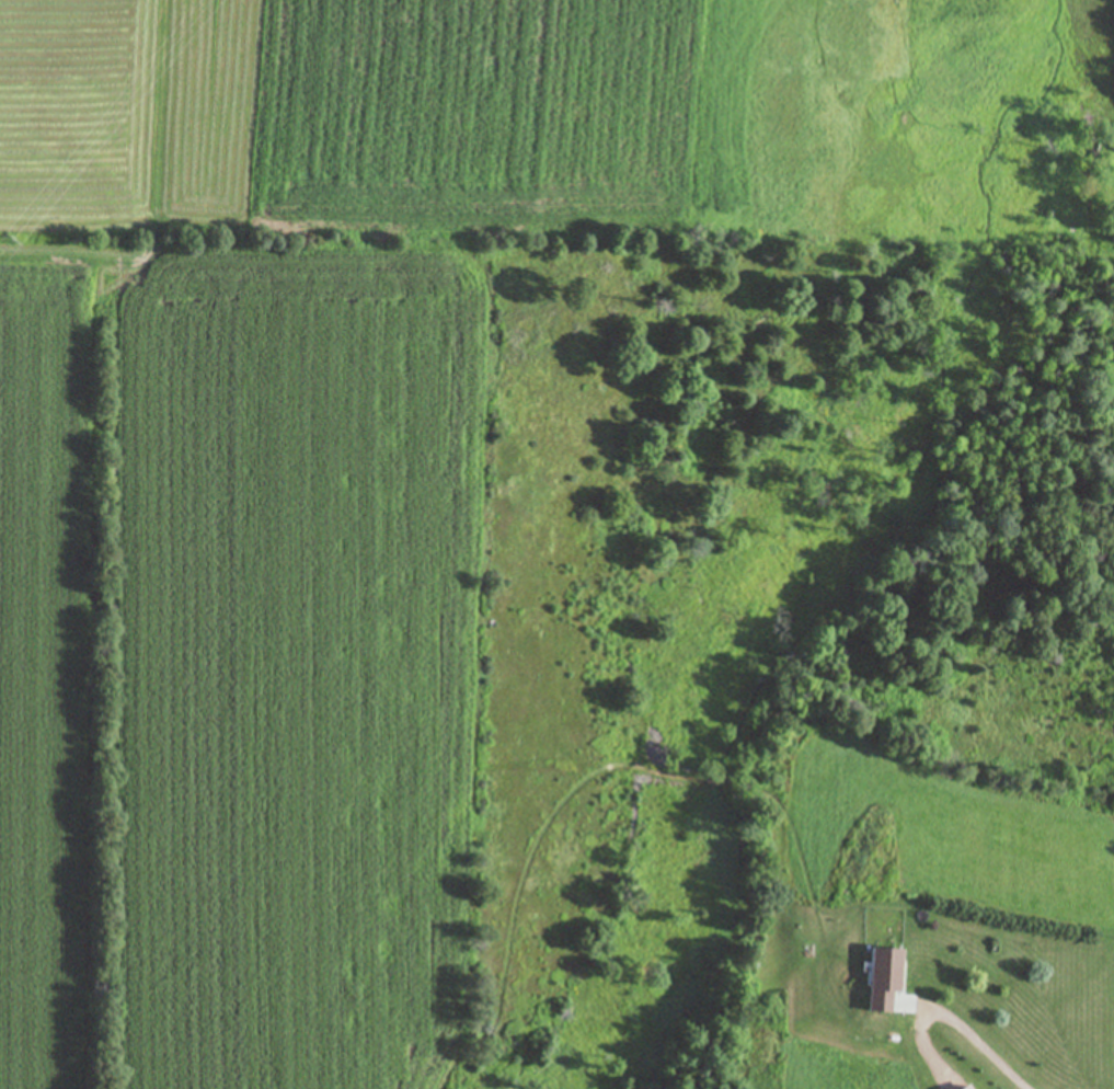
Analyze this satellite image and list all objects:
building: (878, 979)

